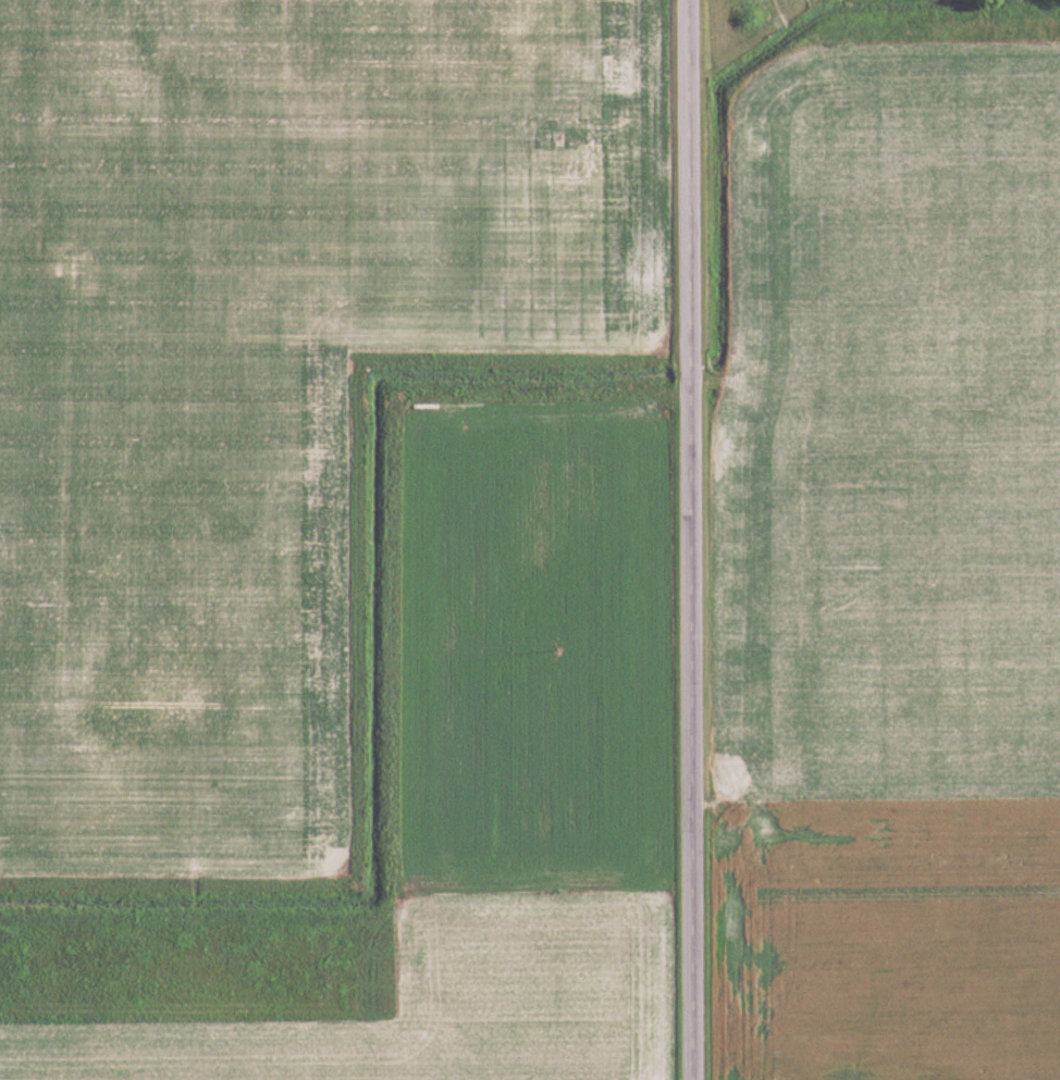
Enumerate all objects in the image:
road: (688, 539)

